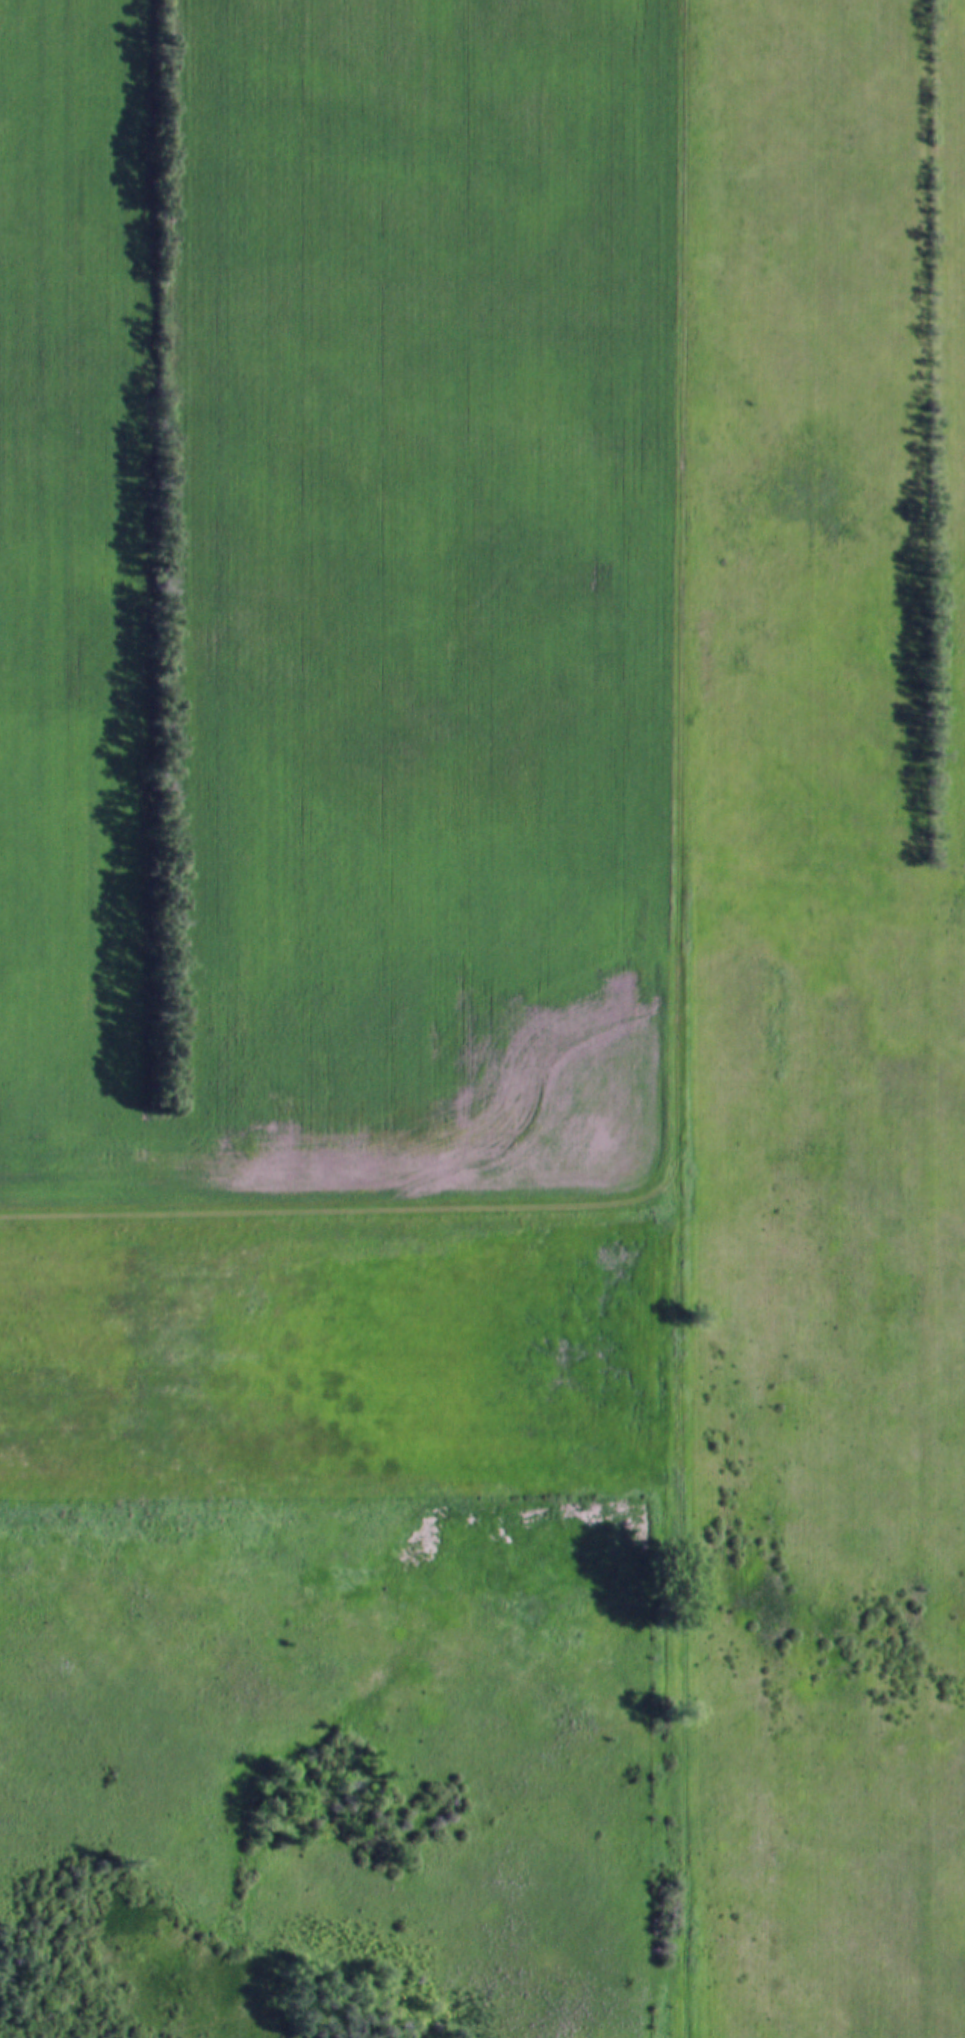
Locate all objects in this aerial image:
road: (672, 1019)

